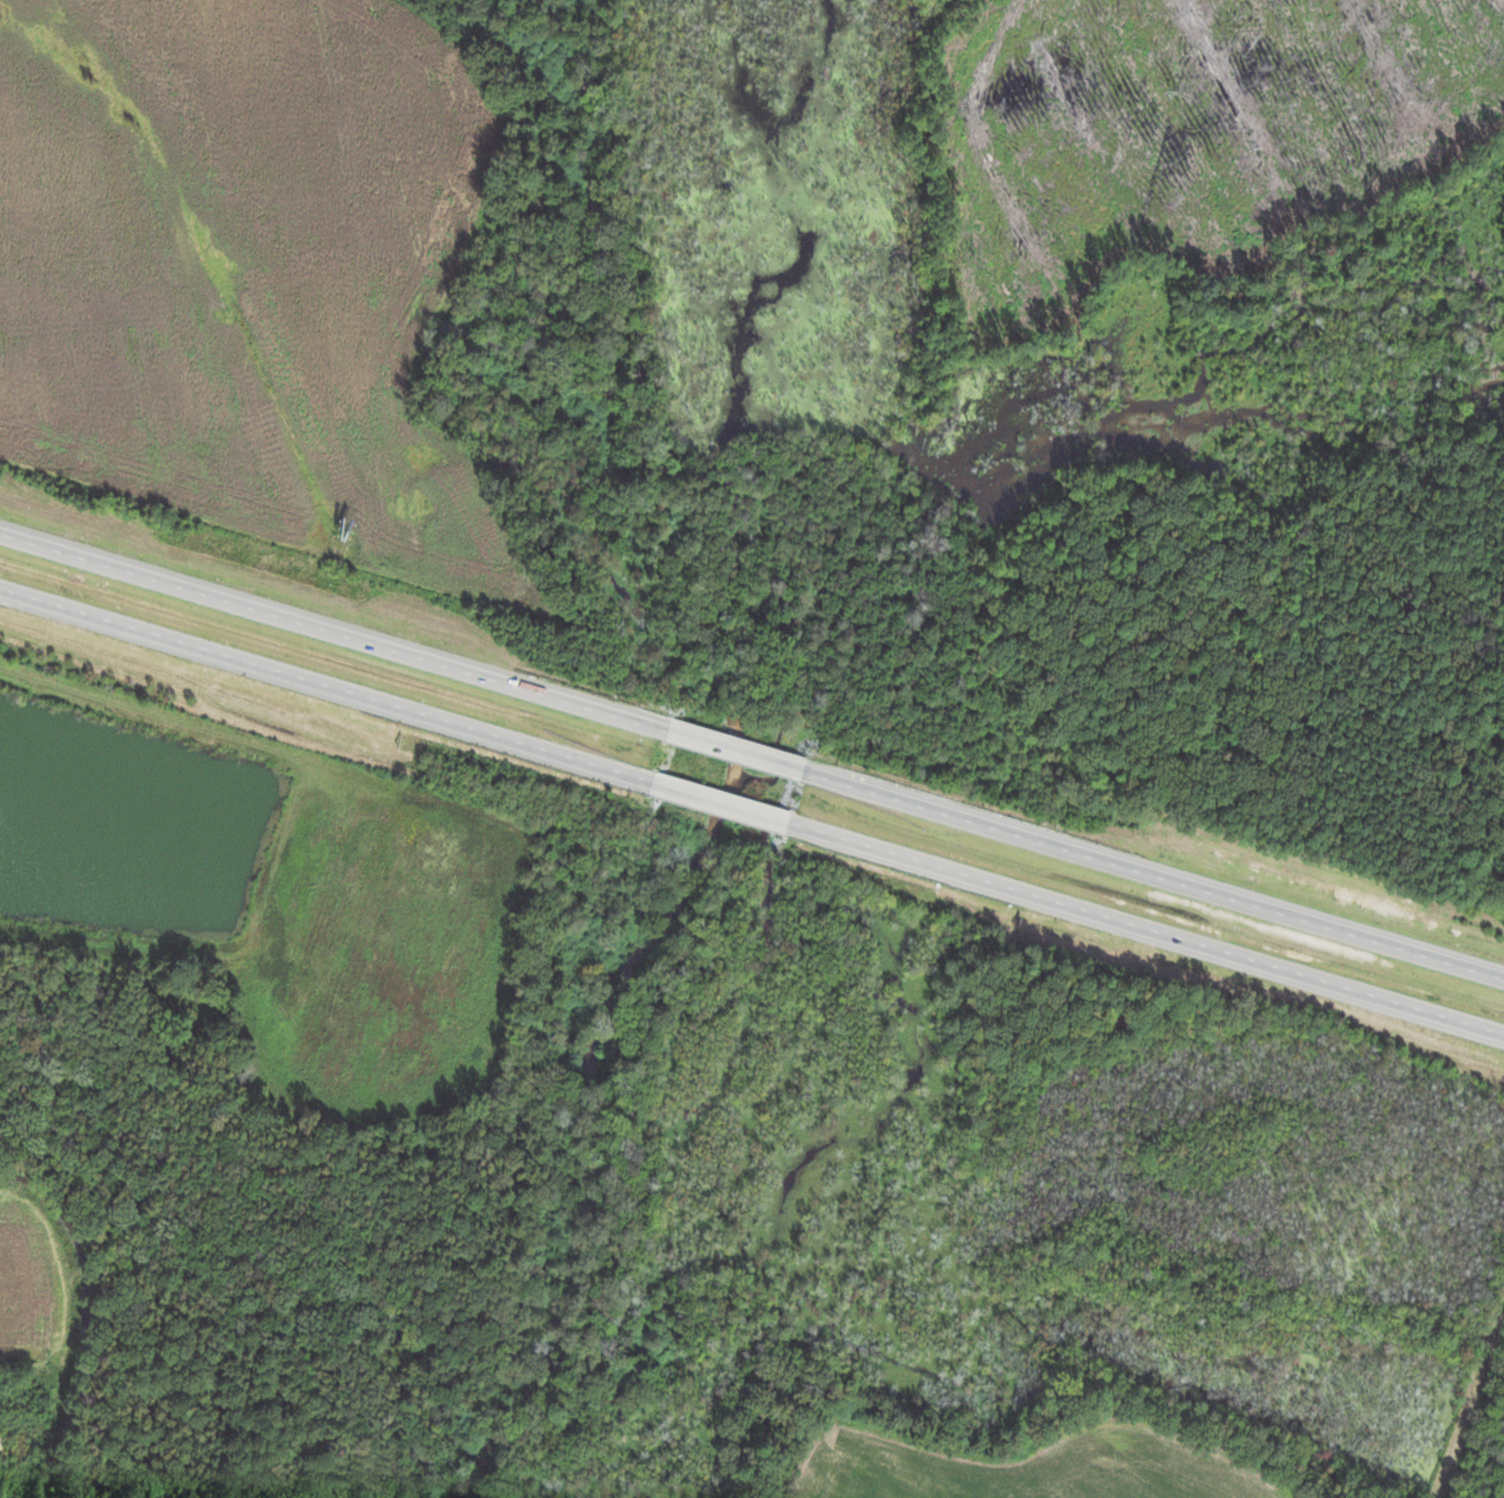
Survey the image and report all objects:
road: (334, 635)
road: (327, 688)
road: (731, 752)
road: (719, 803)
road: (1148, 874)
road: (1143, 926)

